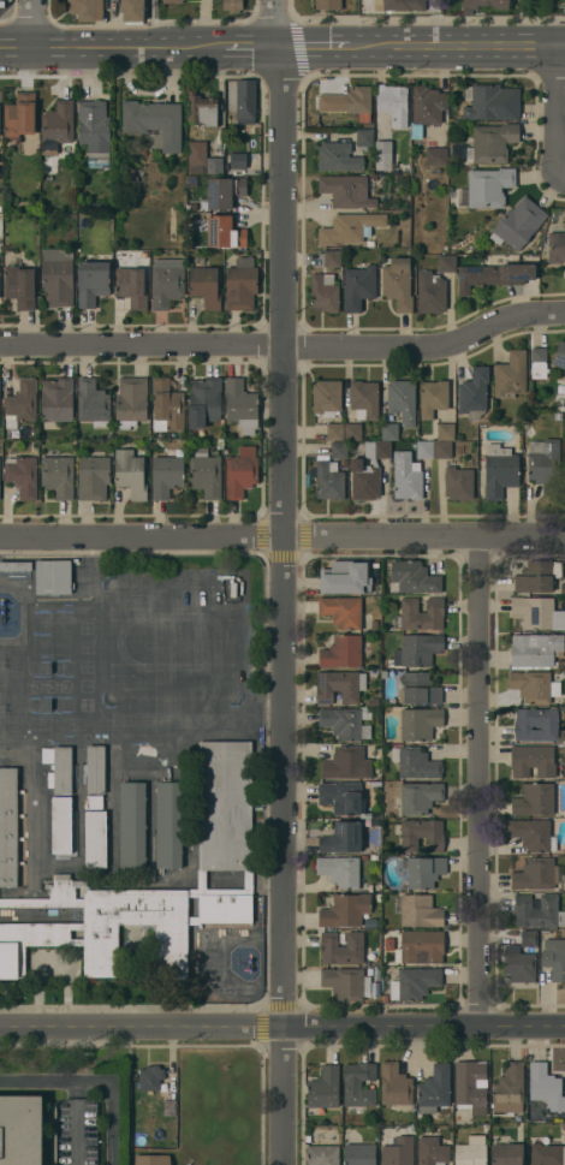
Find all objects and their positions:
building: (173, 1)
building: (403, 4)
building: (486, 4)
building: (233, 5)
building: (328, 5)
building: (85, 10)
building: (132, 10)
road: (36, 24)
road: (153, 24)
road: (281, 24)
road: (560, 47)
road: (76, 48)
road: (218, 48)
road: (457, 48)
road: (321, 49)
building: (245, 101)
building: (358, 101)
building: (492, 101)
building: (393, 103)
building: (428, 105)
road: (555, 106)
building: (203, 109)
building: (20, 115)
building: (154, 123)
building: (58, 125)
building: (95, 131)
building: (364, 137)
building: (492, 143)
building: (457, 150)
building: (383, 155)
building: (436, 155)
building: (338, 157)
building: (203, 159)
building: (238, 160)
building: (130, 173)
building: (373, 177)
building: (191, 179)
building: (486, 188)
building: (347, 190)
building: (222, 192)
building: (90, 206)
building: (518, 224)
building: (352, 230)
building: (225, 232)
building: (555, 246)
building: (142, 252)
building: (333, 257)
building: (447, 263)
building: (494, 274)
building: (58, 277)
building: (93, 281)
building: (167, 281)
building: (398, 283)
building: (204, 284)
building: (240, 284)
building: (20, 286)
building: (131, 286)
building: (358, 287)
building: (430, 292)
building: (325, 293)
road: (285, 349)
building: (559, 355)
building: (539, 362)
building: (511, 374)
building: (474, 392)
building: (327, 397)
building: (433, 397)
building: (58, 399)
building: (364, 399)
building: (203, 400)
building: (402, 400)
building: (131, 402)
building: (22, 403)
building: (93, 403)
building: (242, 405)
building: (167, 406)
building: (335, 432)
building: (353, 432)
building: (389, 432)
building: (446, 432)
building: (220, 444)
building: (459, 447)
building: (339, 450)
building: (426, 450)
building: (444, 450)
building: (545, 464)
building: (500, 470)
building: (368, 471)
building: (131, 472)
building: (206, 472)
building: (240, 472)
building: (23, 475)
building: (58, 475)
building: (166, 475)
building: (408, 476)
building: (94, 477)
building: (329, 480)
building: (459, 483)
road: (282, 539)
building: (16, 565)
building: (537, 576)
building: (53, 577)
building: (346, 577)
building: (412, 577)
building: (563, 588)
road: (287, 606)
building: (343, 611)
building: (537, 613)
building: (420, 614)
building: (374, 624)
building: (417, 649)
building: (536, 650)
building: (343, 652)
building: (560, 662)
building: (564, 673)
building: (340, 685)
building: (534, 685)
building: (420, 689)
building: (374, 702)
building: (346, 723)
building: (420, 723)
building: (537, 725)
building: (533, 760)
building: (415, 762)
building: (346, 763)
building: (59, 768)
building: (96, 769)
road: (480, 780)
building: (370, 791)
building: (344, 797)
building: (420, 797)
building: (534, 800)
building: (95, 802)
building: (225, 804)
building: (8, 825)
building: (61, 825)
building: (132, 825)
building: (168, 825)
building: (422, 834)
building: (533, 834)
building: (341, 837)
building: (96, 839)
building: (374, 857)
building: (340, 870)
building: (423, 870)
building: (536, 874)
building: (248, 879)
building: (63, 888)
building: (42, 902)
building: (225, 908)
building: (345, 910)
building: (417, 910)
building: (537, 911)
building: (192, 921)
building: (370, 922)
building: (77, 926)
building: (101, 934)
building: (529, 938)
building: (77, 941)
building: (28, 943)
building: (389, 944)
building: (343, 947)
building: (420, 947)
building: (554, 957)
building: (518, 964)
building: (370, 971)
building: (376, 971)
building: (346, 982)
building: (414, 983)
building: (386, 998)
road: (282, 1026)
building: (149, 1076)
road: (96, 1083)
building: (358, 1086)
building: (470, 1086)
building: (323, 1087)
building: (395, 1087)
building: (546, 1087)
building: (434, 1088)
building: (508, 1089)
building: (168, 1106)
building: (563, 1125)
building: (22, 1130)
building: (432, 1151)
building: (398, 1152)
building: (471, 1152)
building: (361, 1154)
building: (507, 1154)
building: (547, 1154)
building: (323, 1155)
building: (153, 1158)

